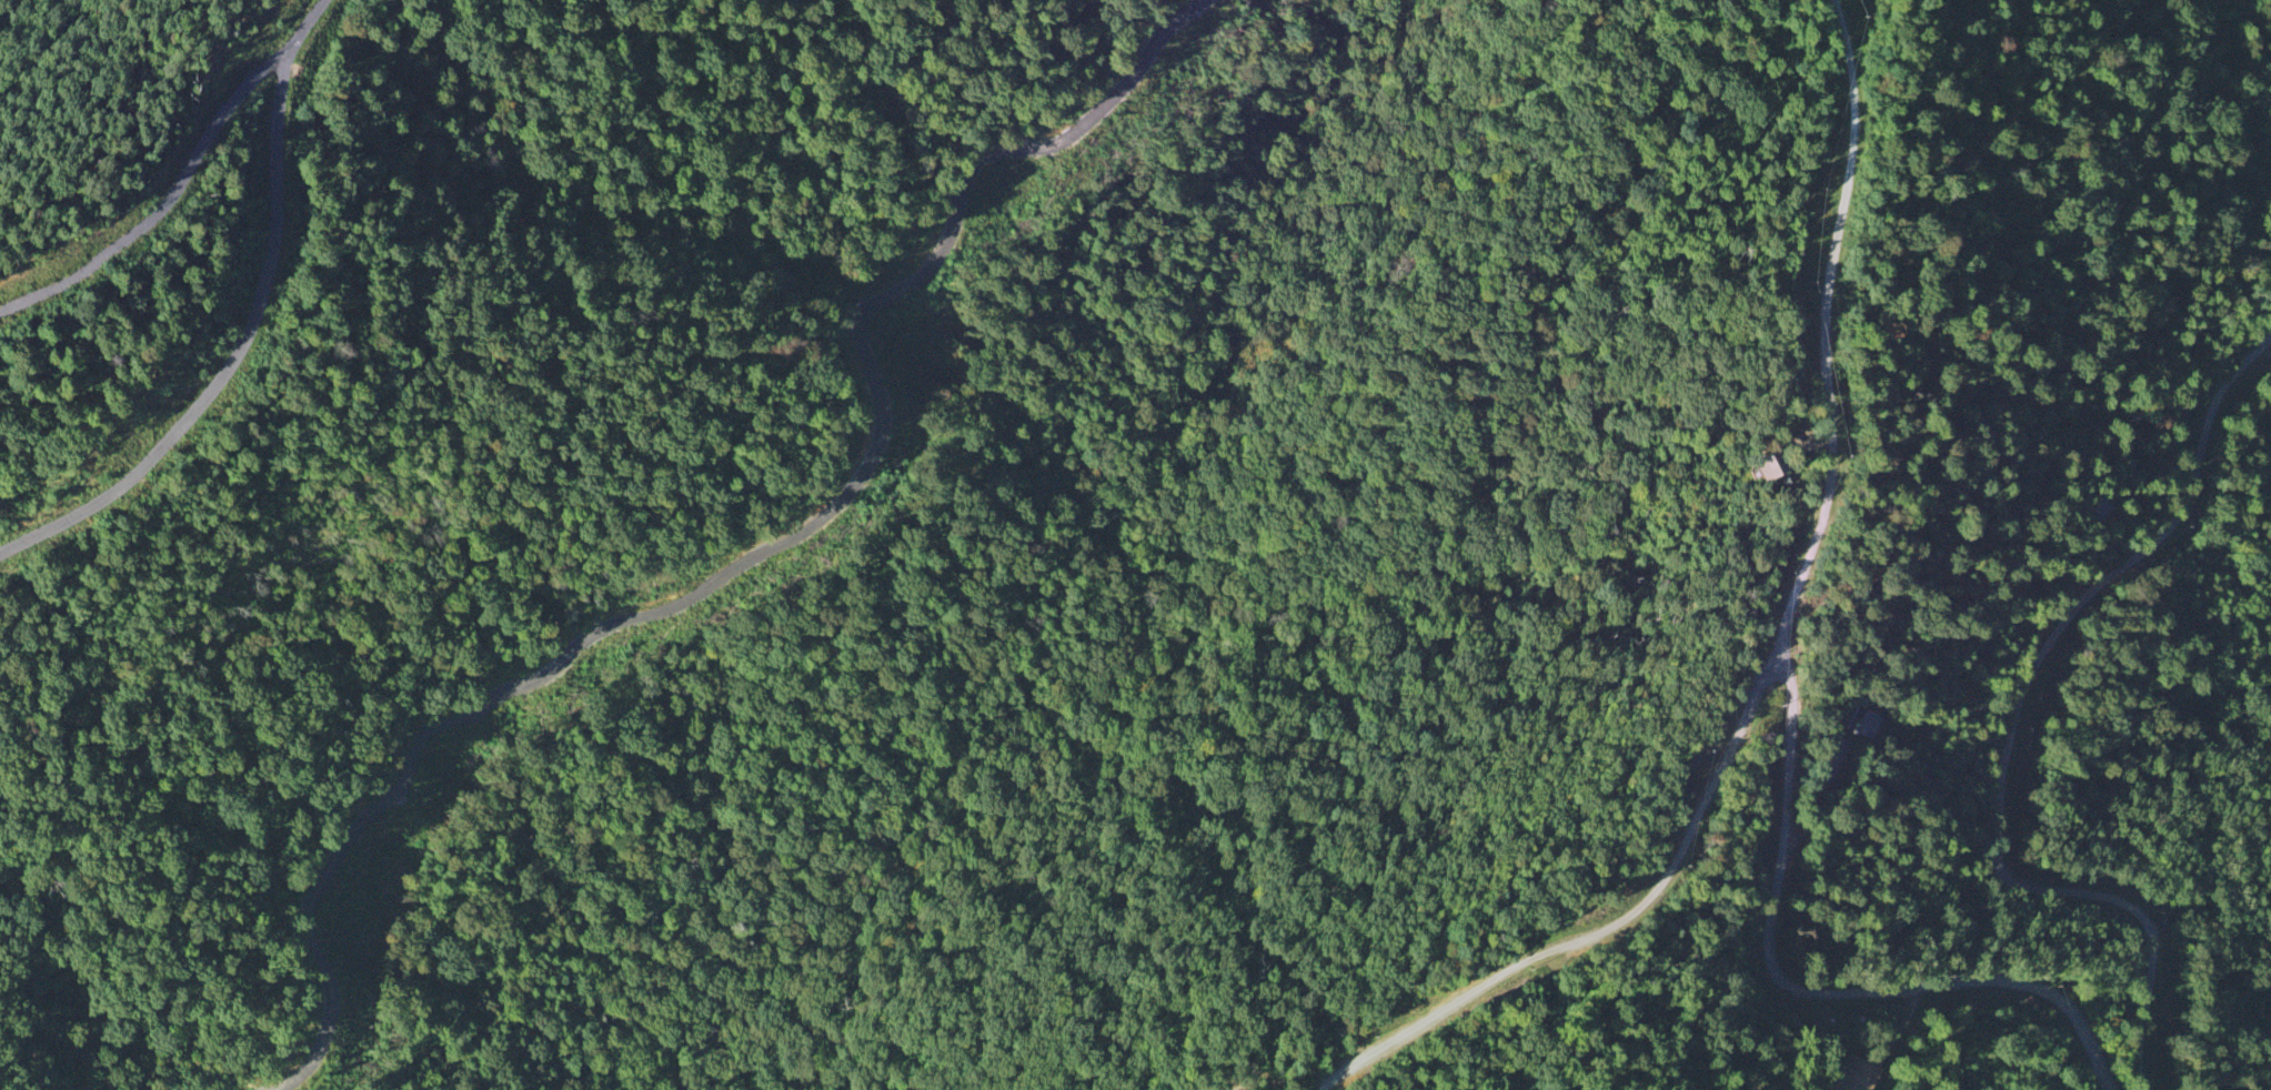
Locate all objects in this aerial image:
road: (165, 203)
road: (250, 327)
building: (1770, 466)
road: (753, 558)
road: (1781, 654)
building: (1862, 725)
road: (2013, 725)
road: (1812, 987)

